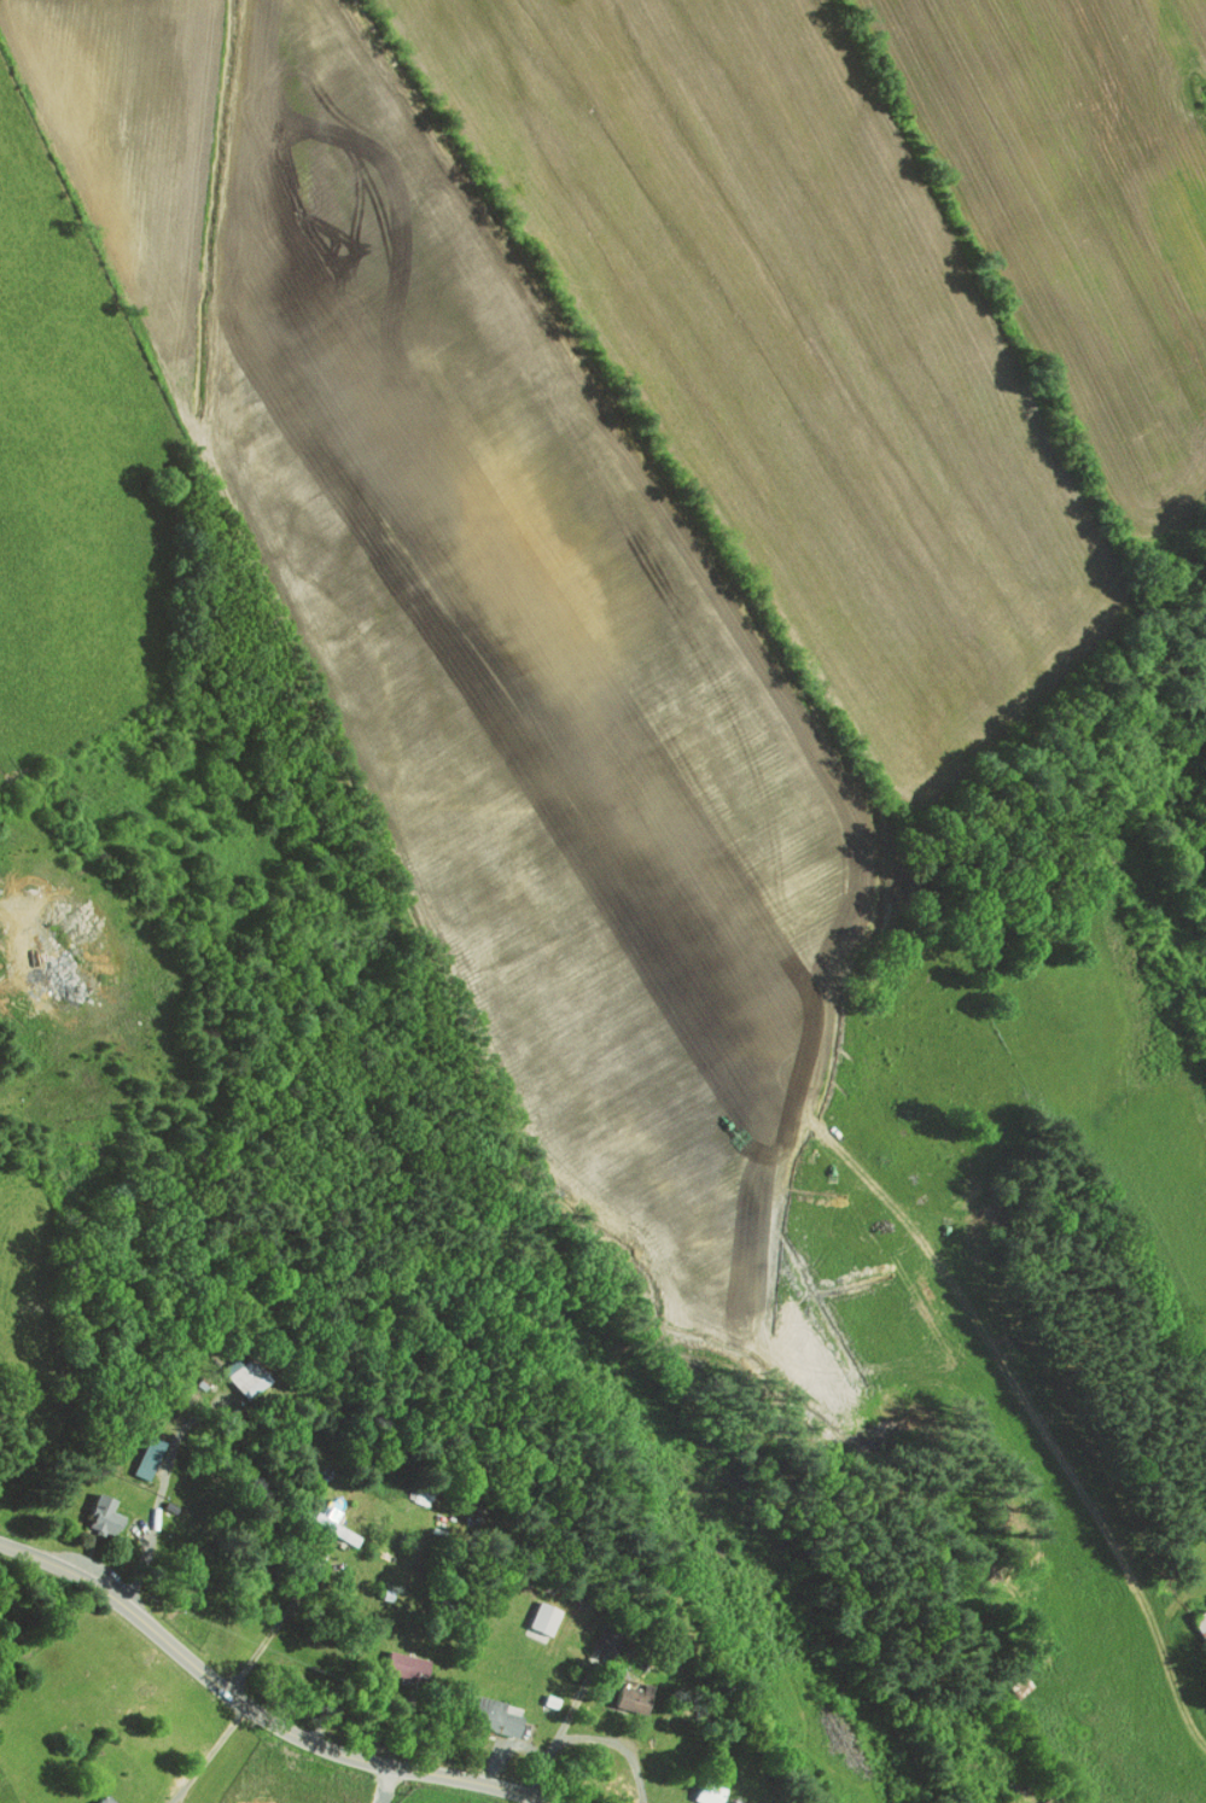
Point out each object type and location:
road: (37, 920)
road: (163, 1490)
road: (254, 1711)
road: (593, 1739)
road: (210, 1756)
road: (388, 1785)

